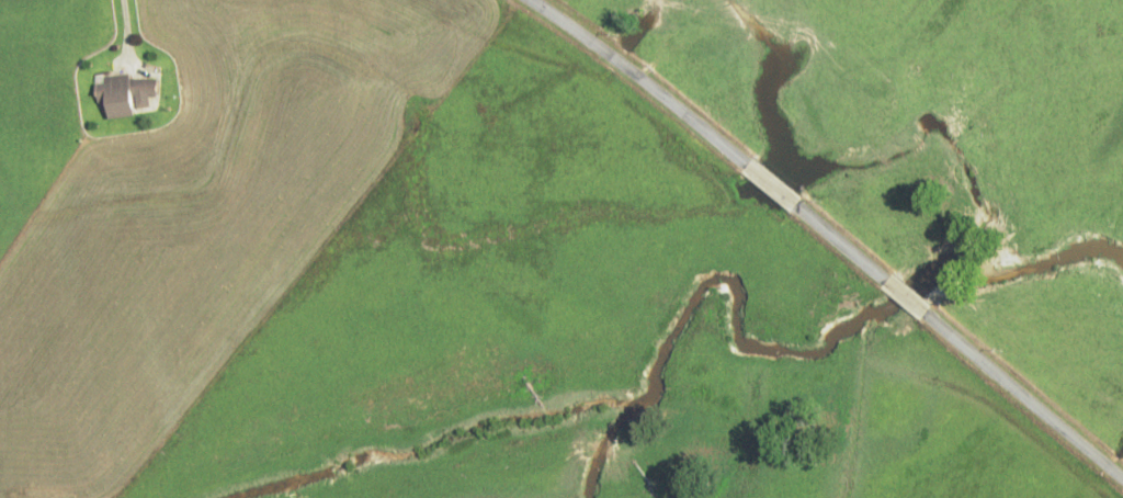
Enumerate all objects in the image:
road: (639, 80)
building: (125, 93)
road: (770, 183)
road: (837, 240)
road: (901, 295)
road: (1022, 395)

